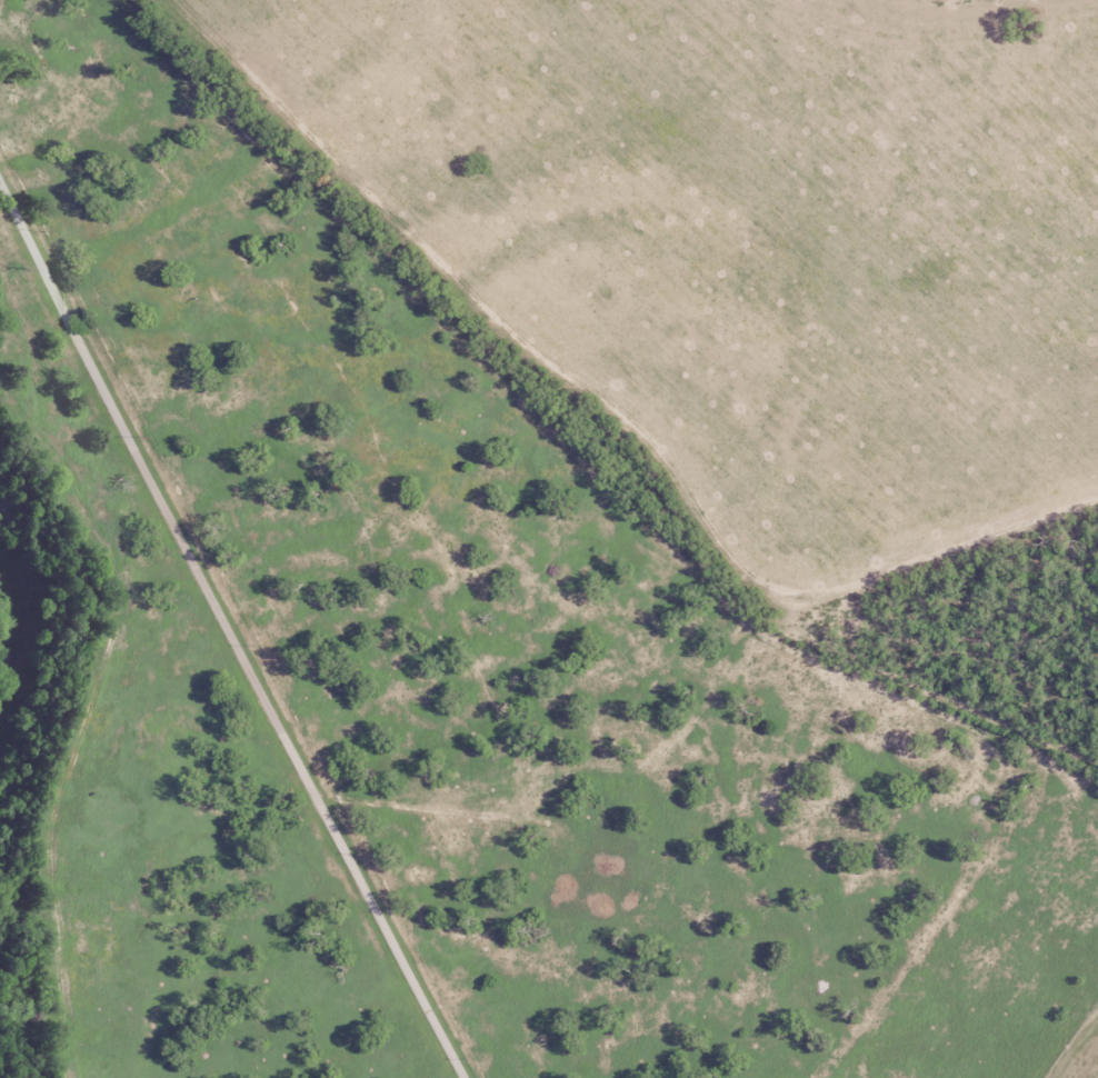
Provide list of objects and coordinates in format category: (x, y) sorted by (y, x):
road: (228, 608)
river: (20, 627)
road: (1070, 1042)

